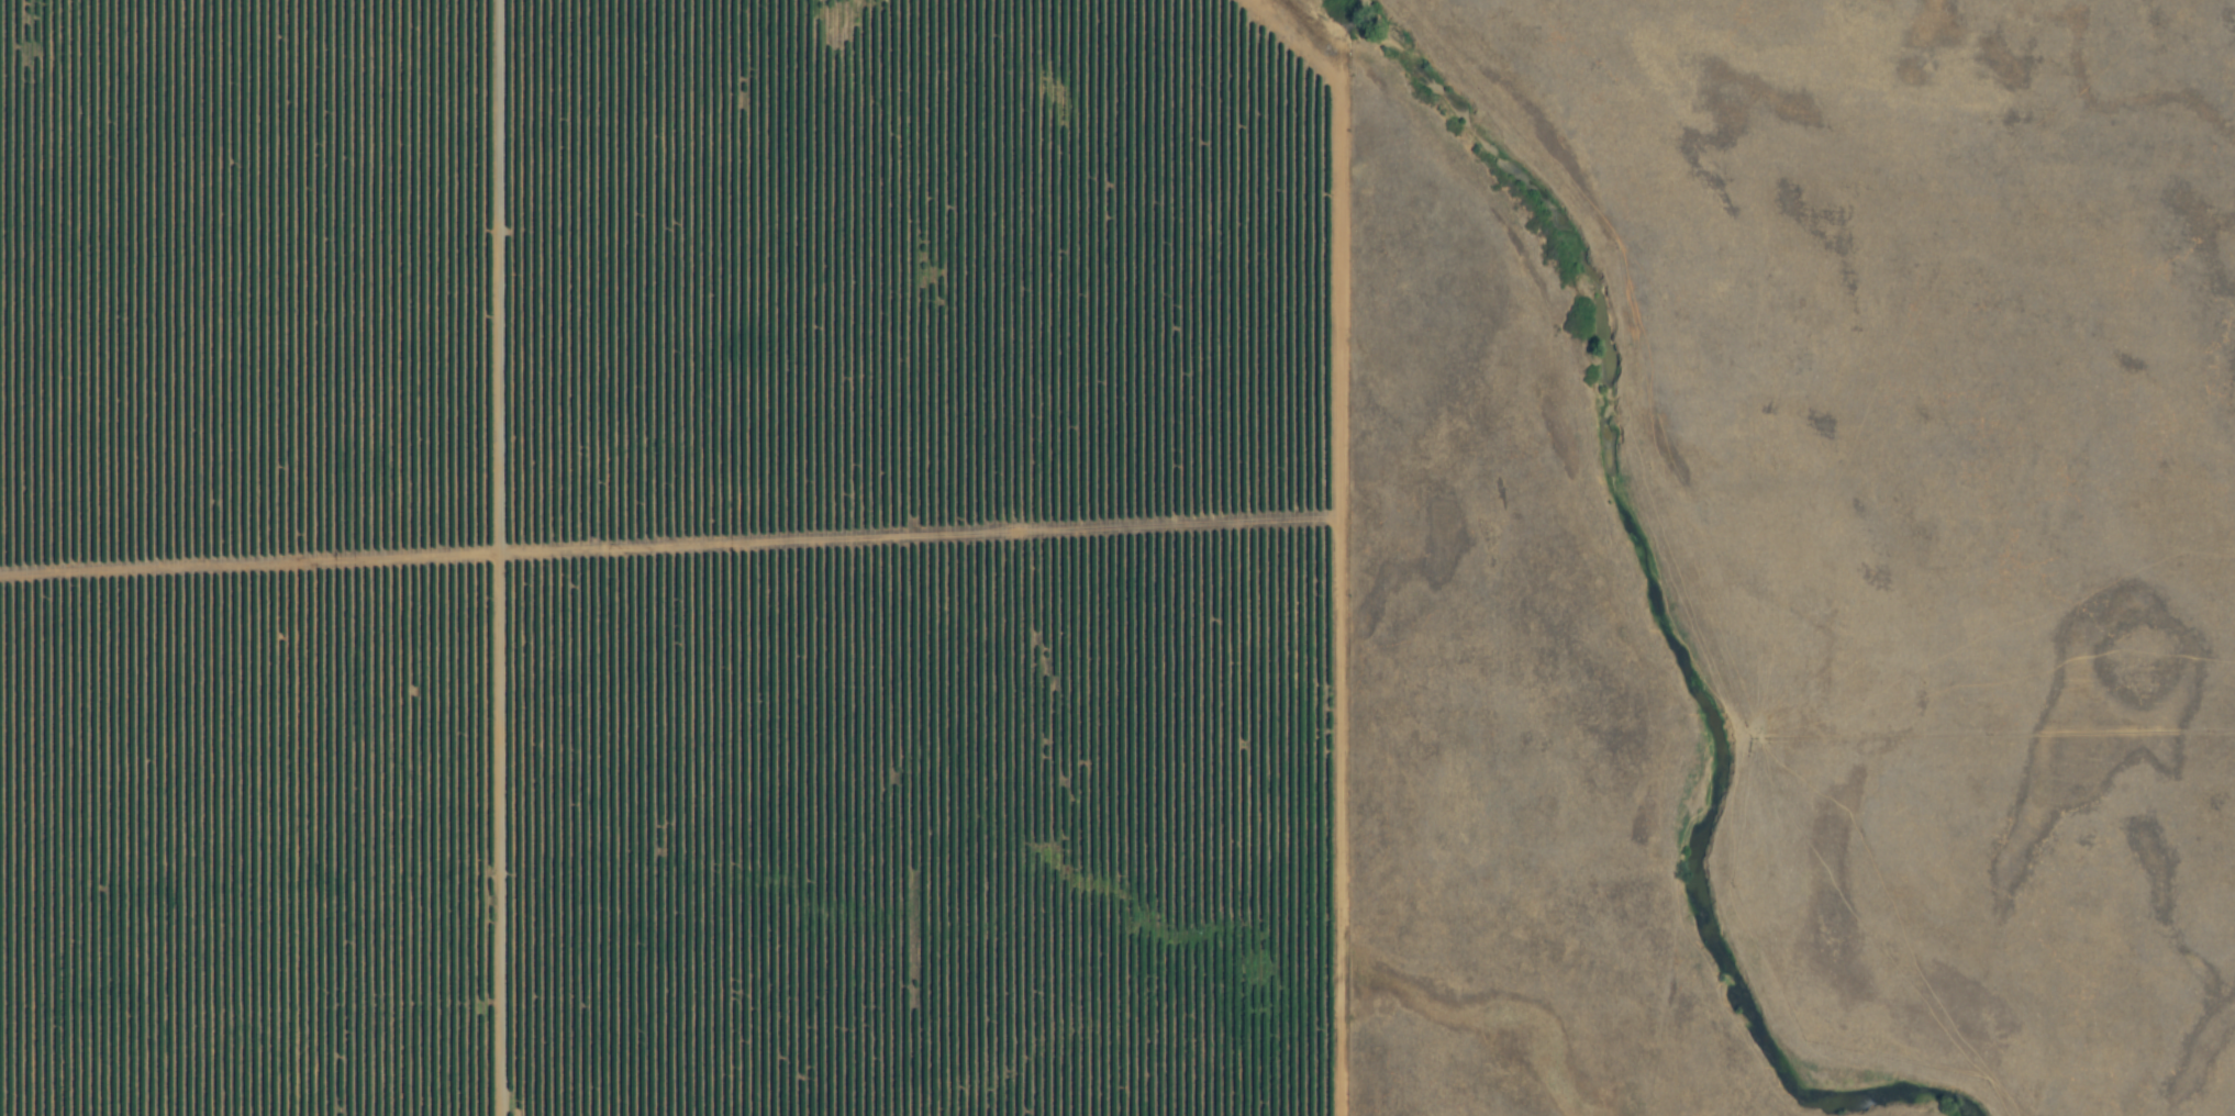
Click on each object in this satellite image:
crop: (667, 559)

